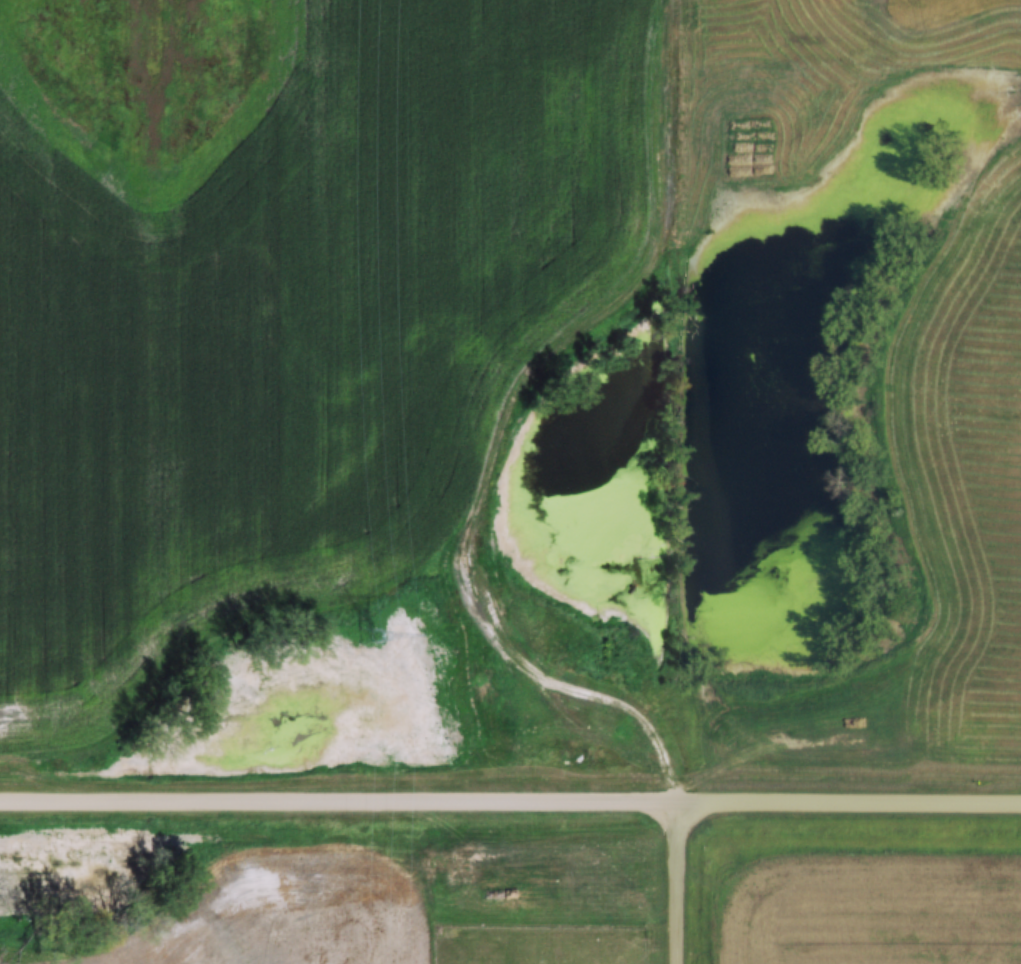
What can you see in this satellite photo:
road: (673, 402)
power tower: (365, 634)
road: (510, 803)
road: (675, 884)

